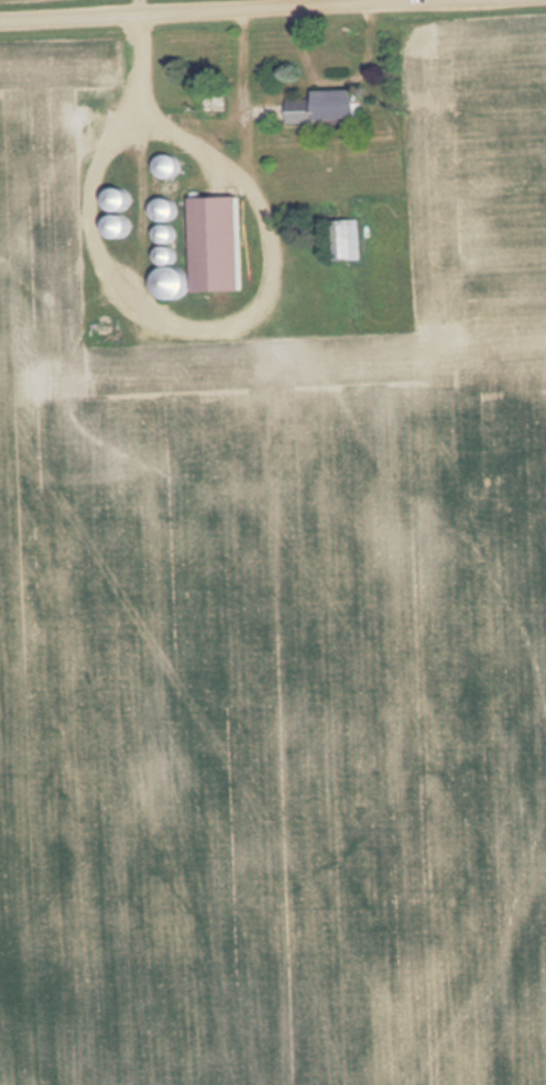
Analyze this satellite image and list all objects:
road: (199, 10)
building: (327, 106)
building: (170, 164)
building: (119, 198)
building: (165, 208)
building: (119, 226)
building: (166, 232)
building: (345, 239)
building: (217, 243)
building: (167, 254)
building: (173, 282)

